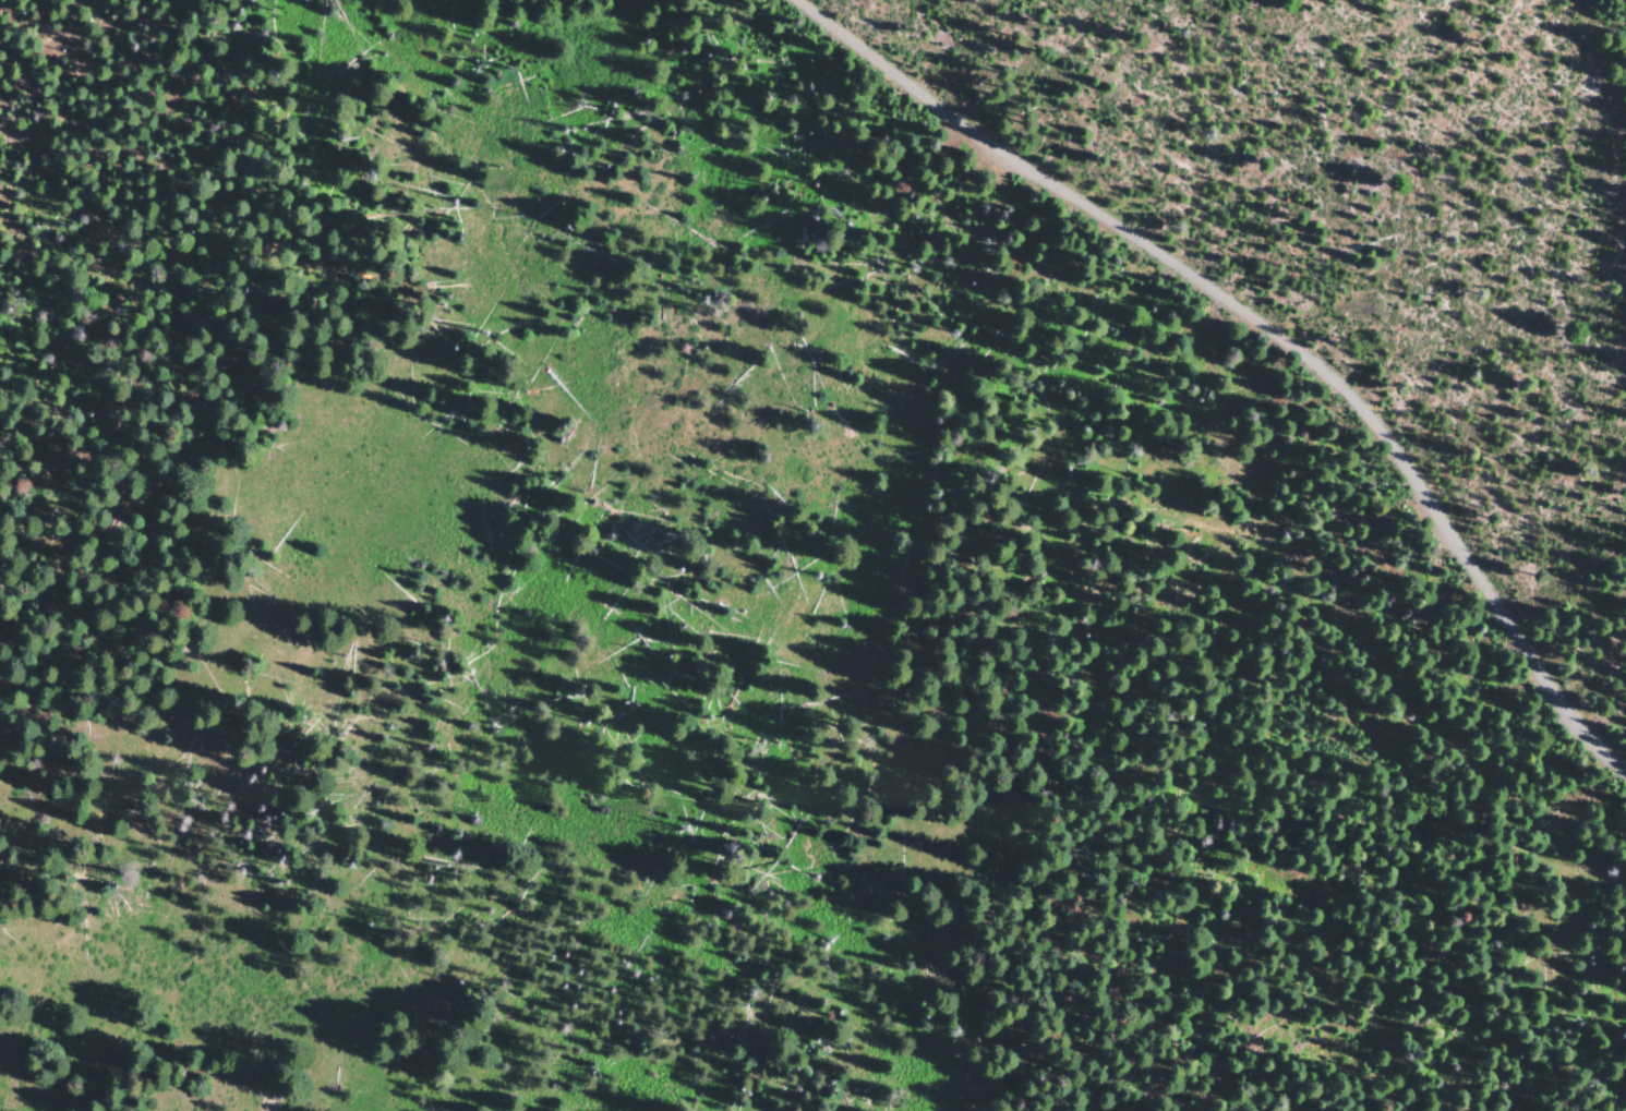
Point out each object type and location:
road: (1294, 329)

